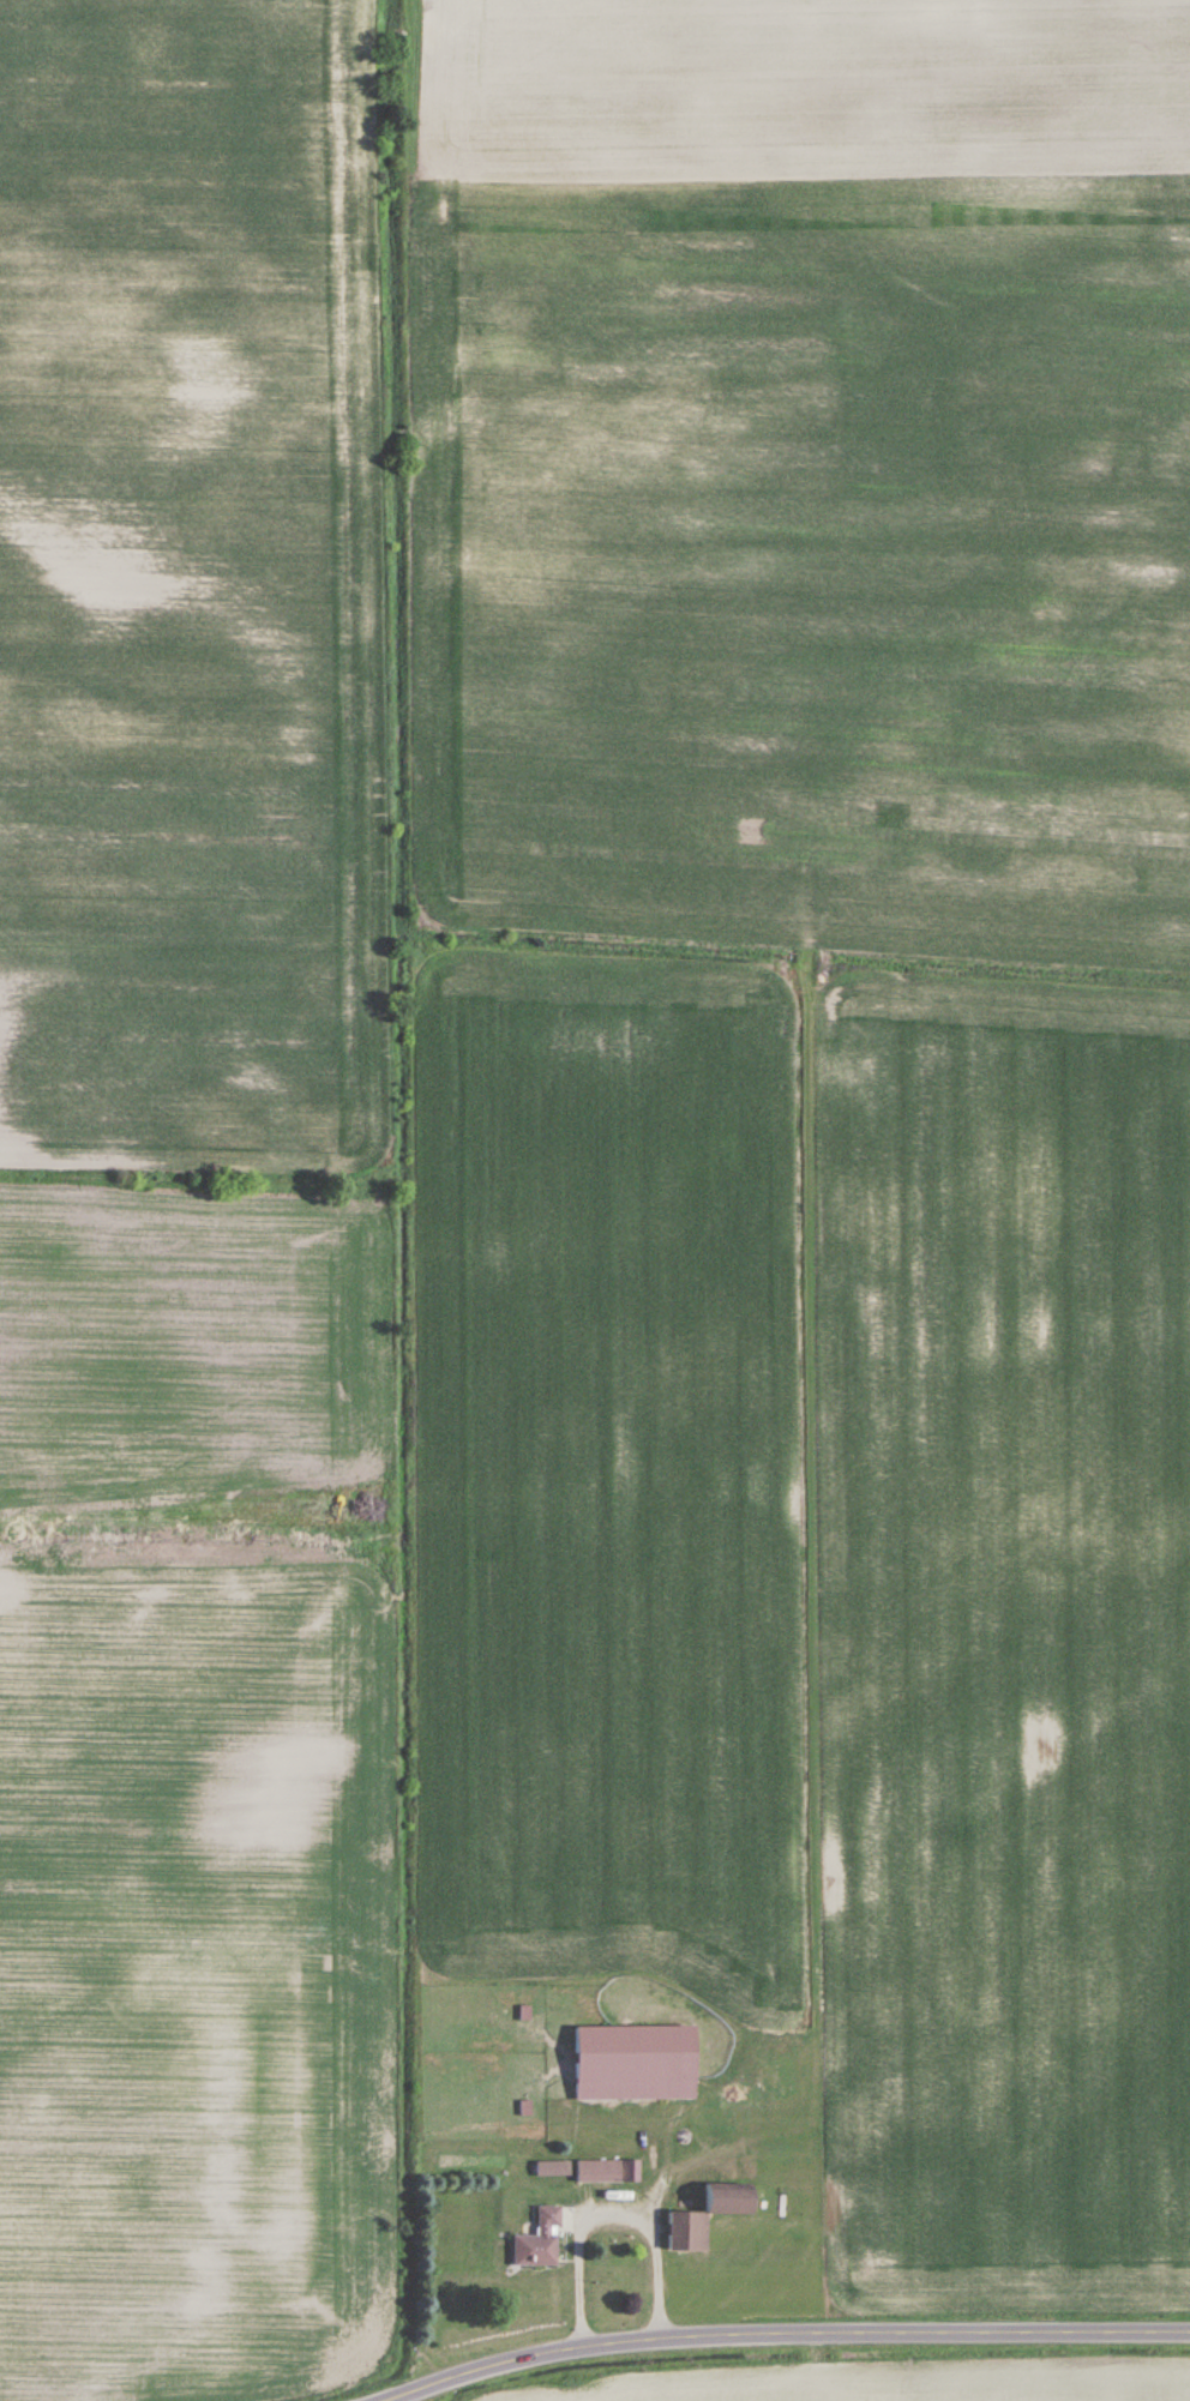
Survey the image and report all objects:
building: (635, 2062)
building: (549, 2170)
building: (599, 2171)
building: (631, 2171)
road: (606, 2206)
building: (705, 2215)
building: (539, 2240)
road: (800, 2334)
road: (402, 2395)
road: (419, 2395)

